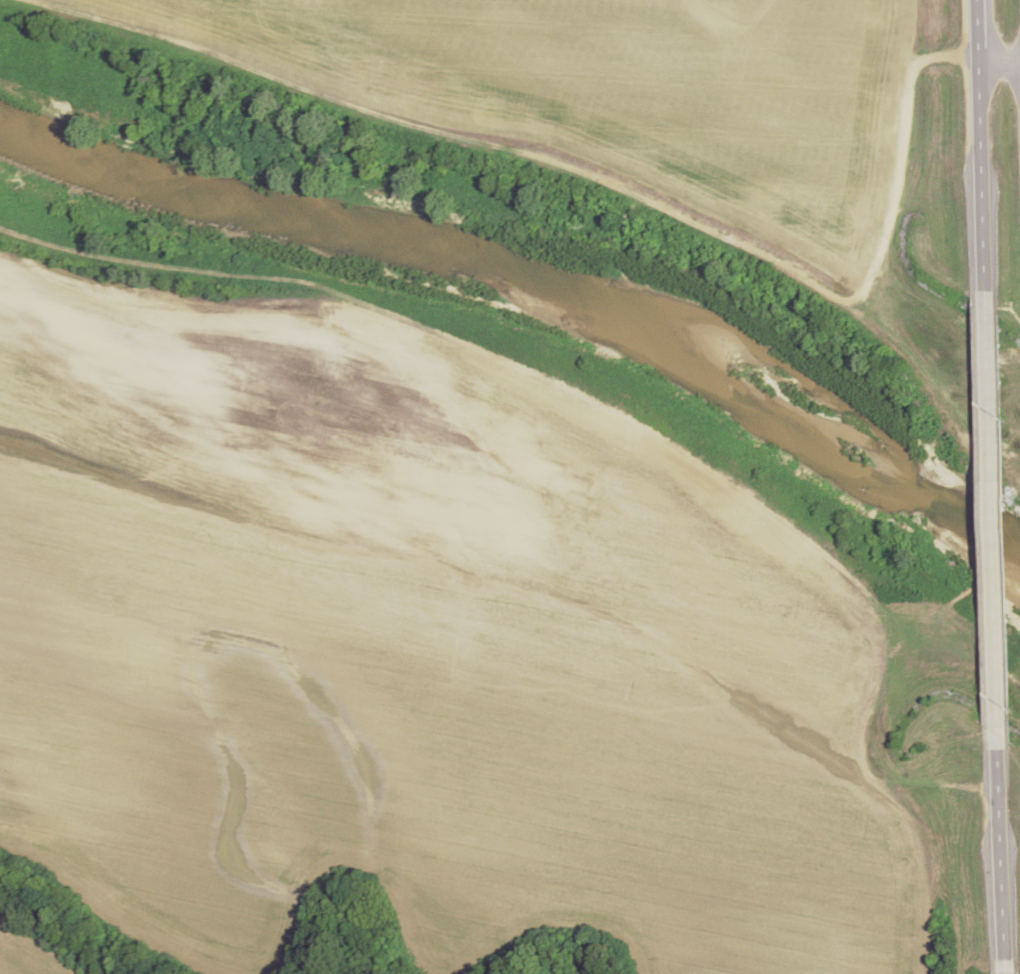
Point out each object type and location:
road: (980, 35)
road: (1001, 69)
road: (985, 181)
river: (529, 299)
road: (994, 521)
road: (1005, 855)
road: (1009, 967)

